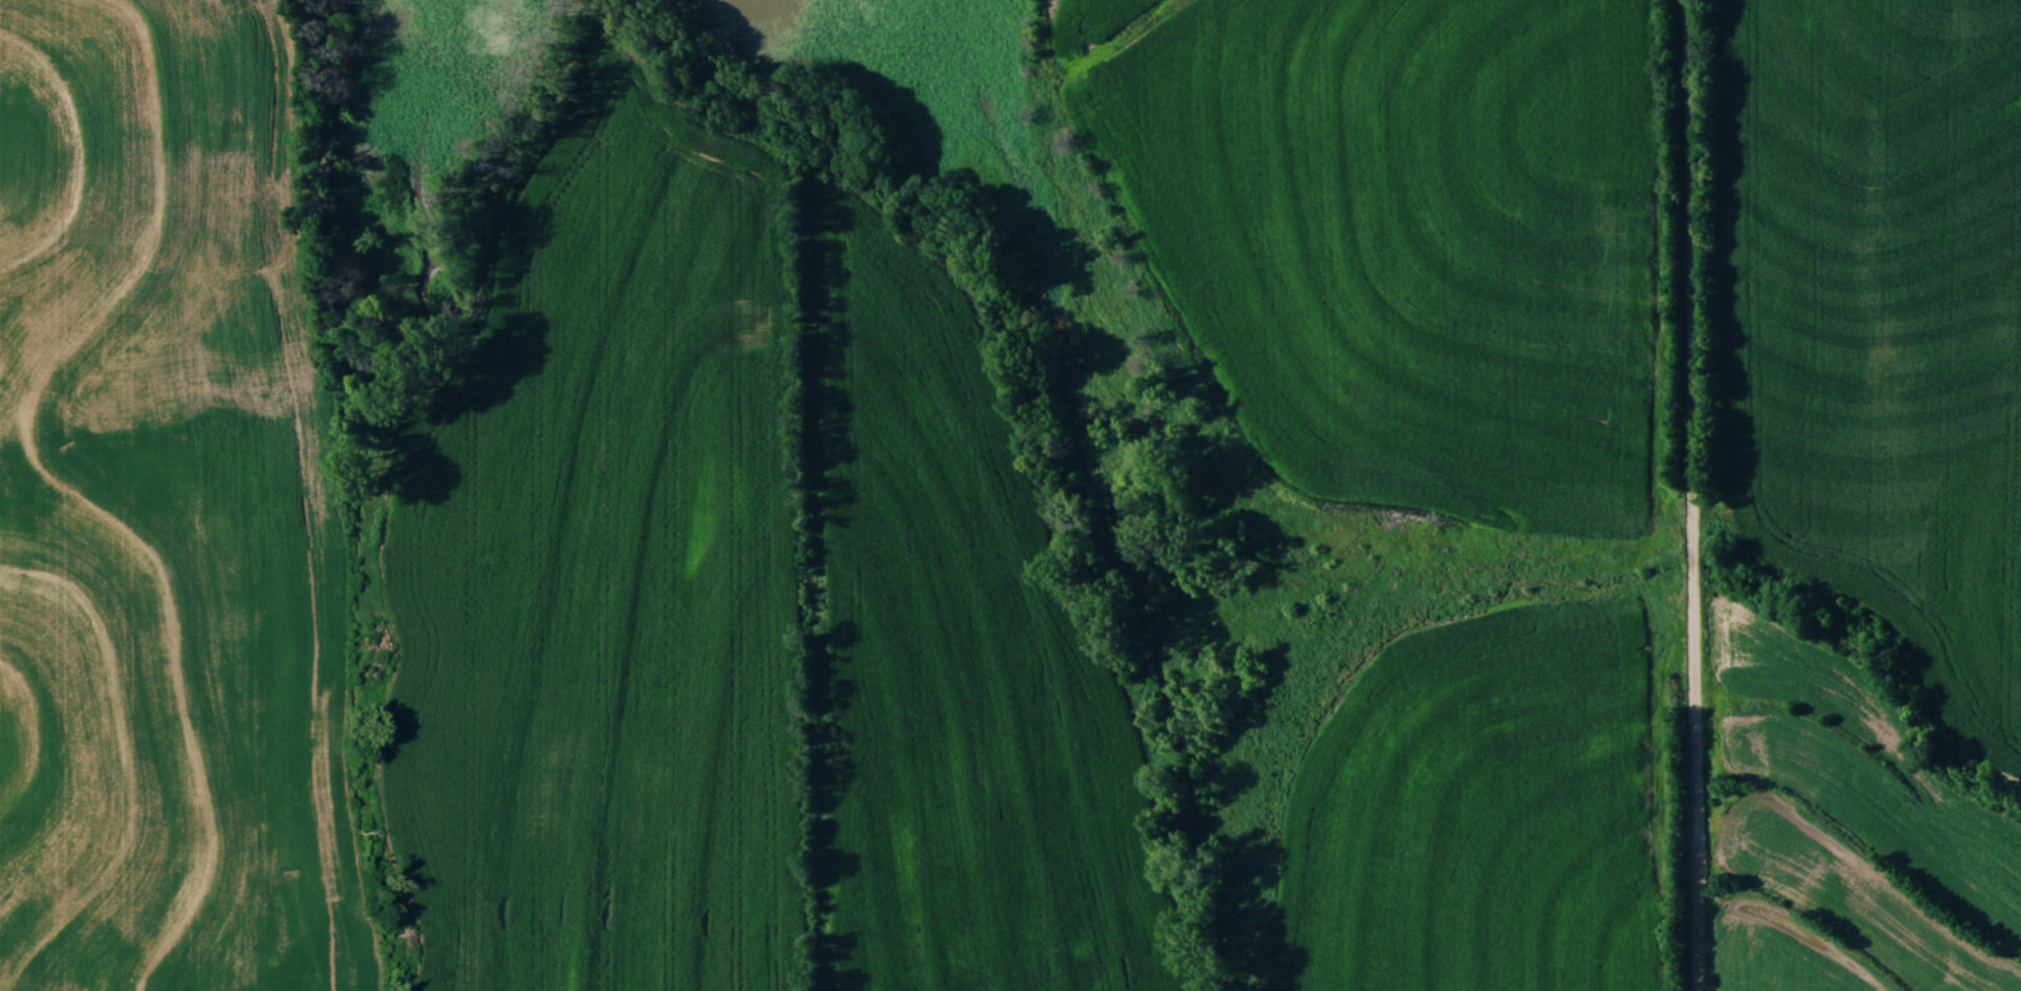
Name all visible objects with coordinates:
road: (1695, 495)

